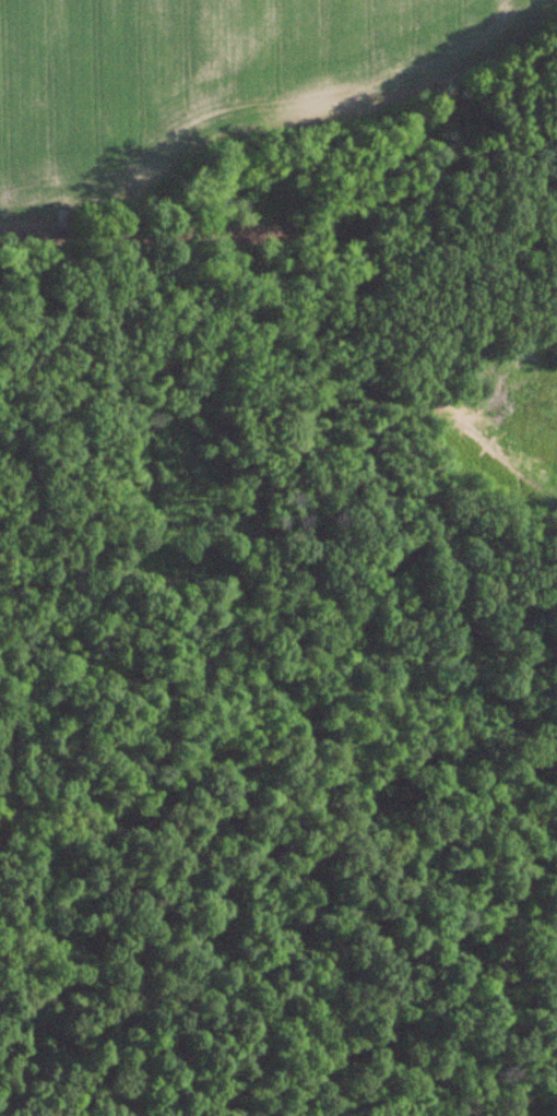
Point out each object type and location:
road: (278, 233)

